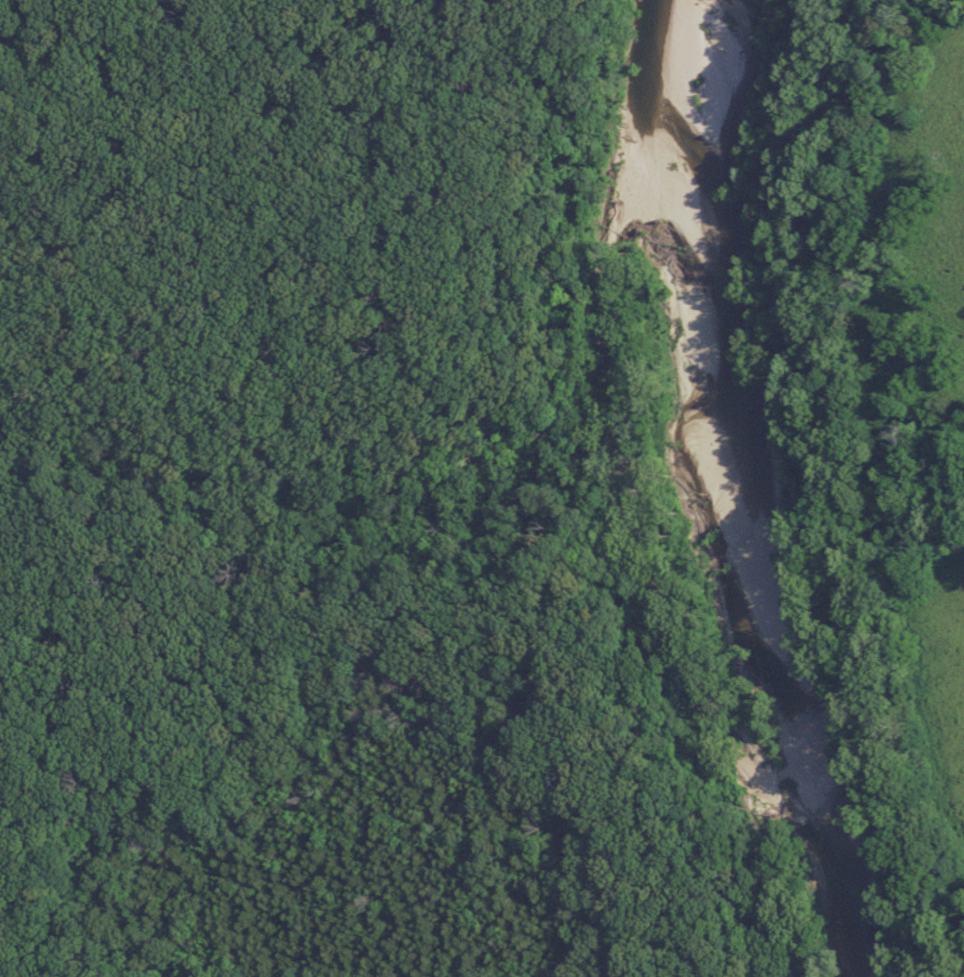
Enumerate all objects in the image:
river: (730, 497)

